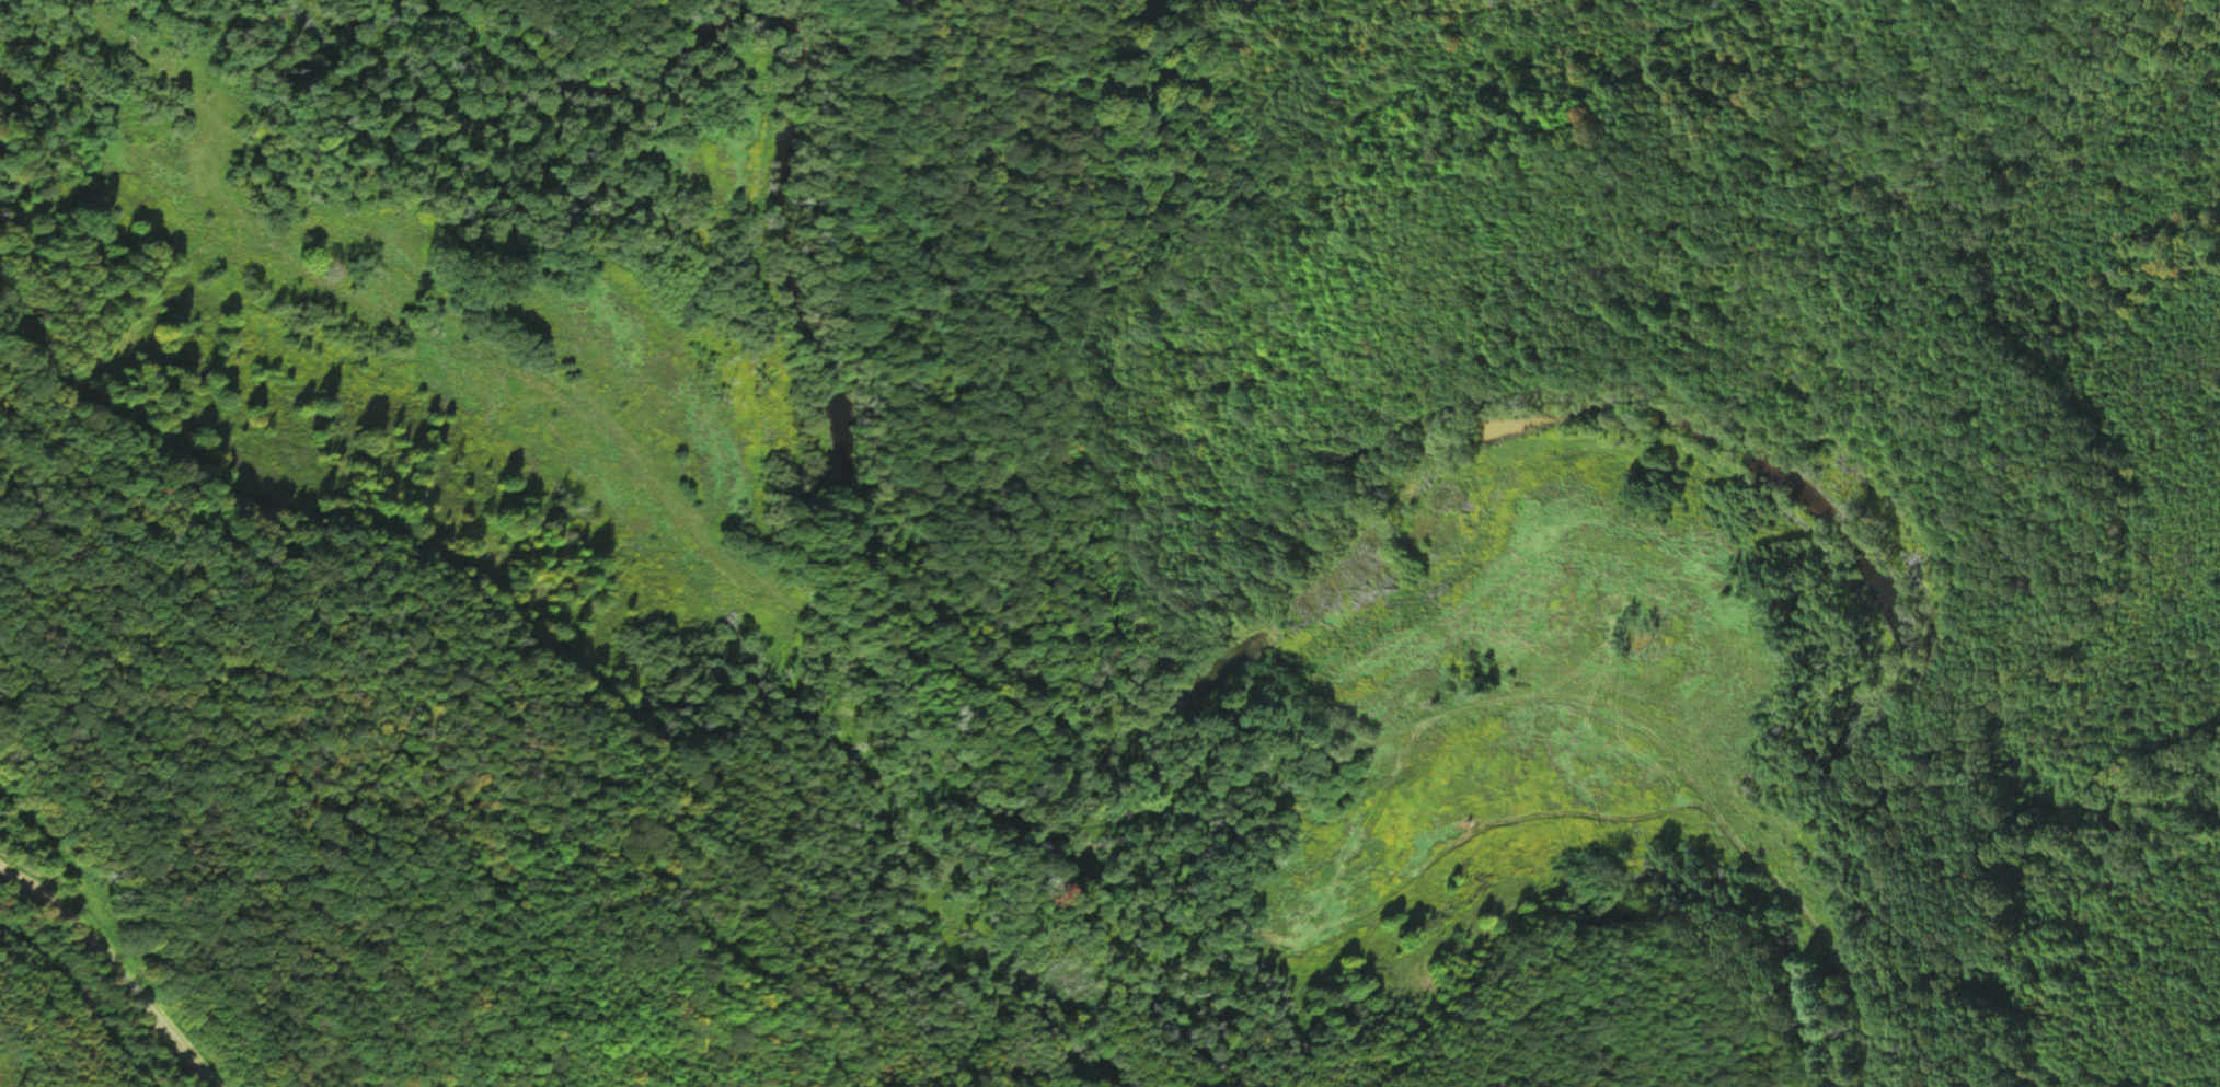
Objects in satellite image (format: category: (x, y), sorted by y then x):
road: (436, 204)
road: (1008, 826)
road: (125, 893)
road: (70, 901)

